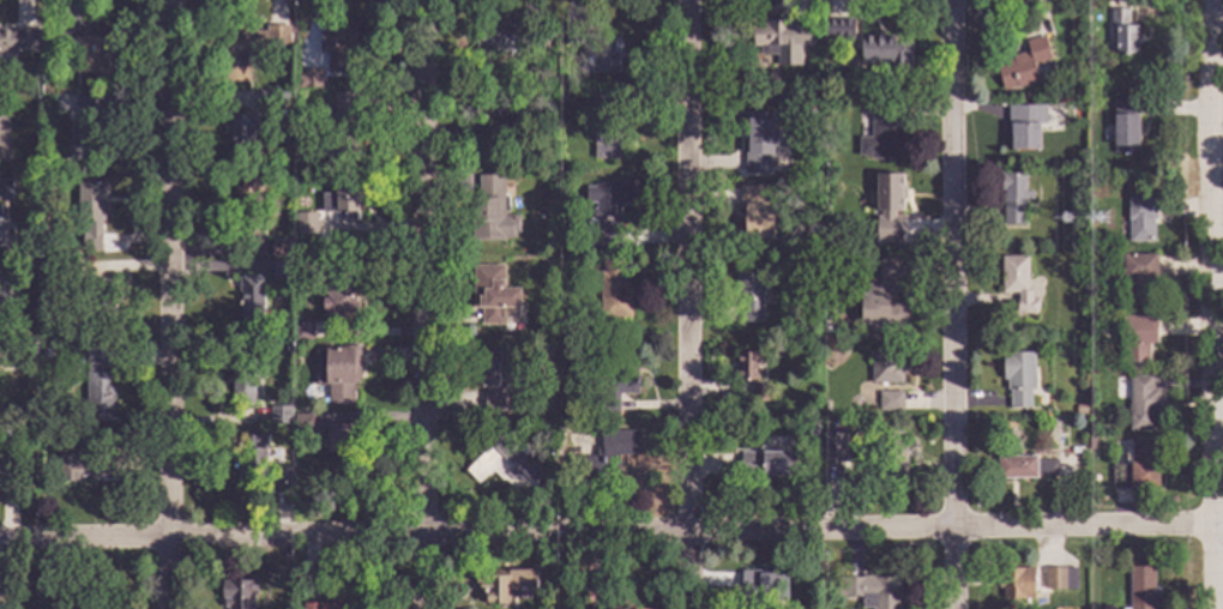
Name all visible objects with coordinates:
building: (839, 29)
building: (1123, 32)
building: (572, 35)
building: (778, 36)
building: (507, 40)
building: (7, 41)
building: (85, 47)
building: (337, 47)
building: (247, 50)
building: (886, 53)
building: (603, 56)
building: (1023, 65)
building: (308, 78)
building: (272, 97)
building: (84, 104)
building: (493, 105)
building: (344, 119)
building: (606, 126)
building: (1025, 126)
building: (1125, 126)
building: (534, 131)
building: (241, 132)
building: (882, 133)
building: (4, 139)
building: (82, 141)
building: (759, 141)
building: (5, 188)
building: (887, 193)
building: (546, 194)
building: (1012, 194)
building: (561, 197)
building: (342, 201)
building: (247, 209)
building: (492, 211)
building: (754, 212)
building: (91, 213)
building: (607, 213)
building: (1140, 219)
power tower: (1068, 221)
power tower: (1104, 221)
building: (305, 223)
building: (0, 242)
building: (279, 248)
building: (300, 265)
building: (67, 271)
building: (282, 271)
building: (826, 271)
building: (1138, 276)
building: (1017, 283)
building: (611, 289)
building: (749, 293)
building: (494, 296)
building: (98, 299)
building: (339, 299)
building: (251, 301)
building: (2, 302)
road: (424, 303)
road: (687, 303)
road: (169, 304)
road: (947, 304)
road: (1212, 304)
building: (879, 306)
building: (302, 331)
building: (1133, 338)
building: (288, 349)
building: (30, 351)
building: (44, 351)
building: (1086, 356)
building: (747, 366)
building: (885, 369)
building: (337, 372)
building: (1019, 378)
building: (243, 380)
building: (490, 382)
building: (97, 385)
building: (616, 385)
building: (759, 393)
building: (890, 402)
building: (1141, 404)
building: (1079, 410)
building: (279, 415)
building: (548, 415)
building: (303, 423)
building: (811, 430)
building: (559, 432)
building: (110, 435)
building: (341, 435)
building: (28, 438)
building: (1089, 444)
building: (1074, 451)
building: (827, 452)
building: (559, 453)
building: (606, 454)
building: (890, 454)
building: (564, 463)
building: (261, 464)
building: (770, 464)
building: (1137, 466)
building: (88, 468)
building: (1025, 468)
building: (500, 469)
building: (6, 476)
road: (610, 525)
building: (1059, 579)
building: (597, 583)
building: (1016, 584)
building: (505, 585)
building: (761, 587)
building: (1141, 589)
building: (870, 591)
building: (236, 593)
building: (88, 602)
building: (619, 604)
building: (324, 605)

